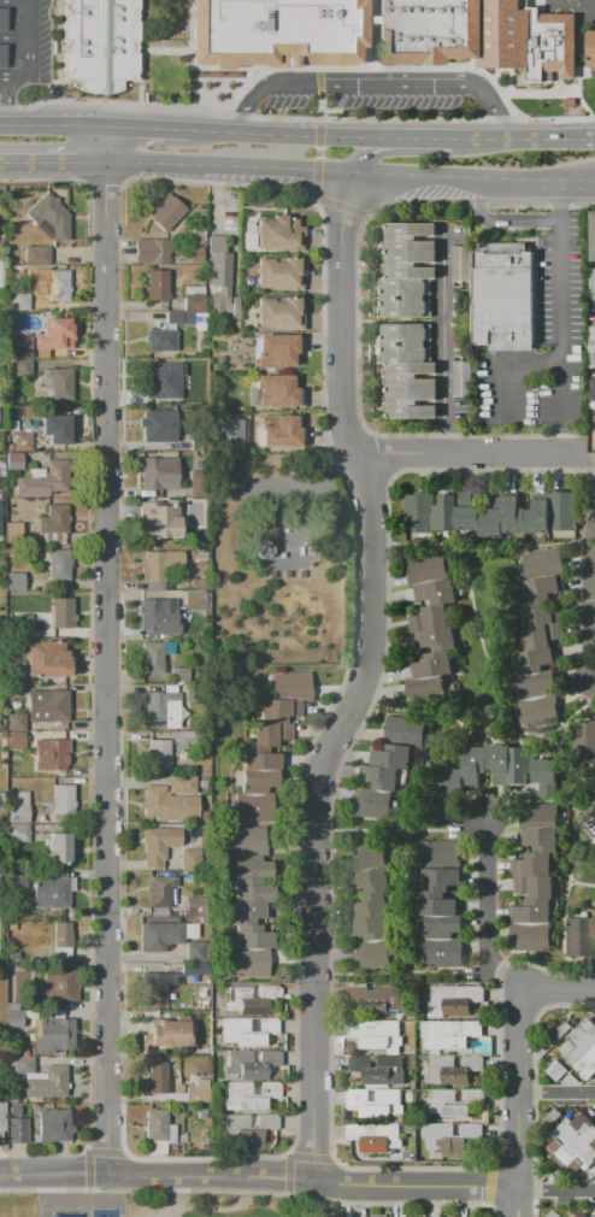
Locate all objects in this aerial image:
road: (12, 0)
road: (570, 2)
road: (367, 12)
building: (1, 18)
road: (188, 29)
building: (429, 30)
building: (275, 31)
road: (12, 36)
building: (526, 40)
parking lot: (24, 41)
road: (140, 41)
building: (99, 43)
road: (366, 46)
road: (24, 48)
building: (590, 48)
road: (163, 49)
building: (1, 54)
road: (223, 66)
road: (405, 67)
road: (506, 70)
road: (318, 80)
road: (372, 84)
road: (241, 87)
road: (575, 88)
road: (537, 93)
road: (139, 94)
road: (4, 98)
parking lot: (366, 101)
road: (319, 106)
road: (295, 118)
road: (29, 124)
road: (82, 124)
road: (148, 125)
road: (288, 131)
road: (318, 133)
road: (523, 133)
road: (419, 134)
road: (317, 153)
road: (365, 154)
road: (53, 164)
road: (225, 166)
road: (469, 176)
road: (102, 177)
road: (314, 178)
road: (41, 180)
road: (219, 183)
road: (479, 205)
road: (340, 206)
flagpole: (518, 210)
building: (165, 211)
building: (48, 218)
road: (500, 219)
building: (279, 234)
building: (591, 235)
building: (411, 249)
building: (152, 251)
building: (195, 253)
road: (78, 254)
building: (39, 255)
road: (559, 261)
building: (460, 264)
building: (279, 274)
building: (222, 278)
building: (158, 283)
building: (591, 287)
building: (42, 290)
building: (503, 296)
building: (194, 298)
building: (405, 298)
building: (281, 312)
building: (179, 318)
building: (57, 334)
building: (160, 340)
road: (443, 340)
building: (405, 343)
building: (19, 347)
building: (591, 347)
building: (278, 349)
road: (69, 353)
road: (69, 363)
road: (506, 366)
building: (22, 368)
building: (159, 374)
building: (460, 380)
building: (63, 384)
road: (560, 386)
building: (277, 390)
building: (411, 390)
building: (591, 390)
building: (153, 427)
building: (58, 428)
building: (230, 431)
building: (284, 431)
building: (22, 441)
road: (69, 447)
road: (475, 454)
road: (64, 458)
building: (14, 461)
building: (158, 474)
building: (47, 480)
building: (199, 483)
building: (463, 510)
building: (442, 511)
building: (561, 512)
building: (417, 515)
building: (517, 516)
building: (541, 516)
building: (159, 521)
building: (489, 522)
building: (53, 524)
building: (14, 535)
storage tank: (264, 549)
road: (482, 549)
building: (284, 553)
building: (59, 564)
building: (161, 564)
building: (542, 564)
building: (425, 569)
building: (16, 581)
road: (66, 584)
building: (542, 589)
building: (436, 593)
building: (195, 600)
building: (543, 612)
building: (59, 615)
building: (157, 617)
building: (431, 618)
road: (476, 634)
building: (542, 635)
building: (436, 640)
road: (107, 647)
road: (594, 648)
building: (152, 658)
building: (48, 659)
building: (535, 659)
building: (436, 665)
building: (181, 674)
road: (363, 680)
building: (536, 683)
building: (289, 684)
building: (431, 686)
building: (193, 693)
building: (49, 705)
building: (13, 707)
building: (281, 707)
building: (538, 709)
building: (160, 710)
road: (432, 712)
building: (17, 722)
road: (66, 725)
building: (271, 730)
building: (406, 731)
building: (182, 737)
building: (16, 740)
building: (583, 740)
building: (49, 754)
building: (158, 754)
building: (394, 757)
building: (257, 758)
building: (499, 764)
building: (472, 765)
building: (518, 765)
building: (543, 775)
building: (383, 778)
building: (181, 784)
building: (260, 786)
building: (450, 788)
building: (61, 799)
building: (167, 805)
building: (372, 805)
building: (18, 806)
building: (251, 807)
building: (538, 817)
building: (591, 822)
road: (402, 830)
building: (19, 833)
building: (246, 840)
building: (538, 840)
building: (159, 845)
building: (58, 847)
building: (370, 853)
building: (441, 854)
building: (189, 859)
building: (532, 864)
building: (252, 869)
road: (69, 874)
building: (369, 875)
building: (440, 878)
road: (582, 883)
building: (532, 887)
building: (43, 890)
building: (247, 890)
building: (160, 892)
building: (372, 901)
building: (437, 904)
building: (195, 906)
road: (565, 906)
building: (530, 912)
building: (248, 913)
road: (489, 913)
building: (594, 924)
building: (366, 925)
building: (442, 927)
building: (63, 936)
building: (159, 936)
building: (529, 937)
building: (255, 939)
building: (579, 939)
building: (195, 952)
building: (443, 952)
building: (369, 954)
building: (13, 956)
building: (249, 963)
building: (194, 970)
building: (59, 987)
building: (155, 987)
road: (558, 992)
building: (252, 999)
building: (376, 1000)
building: (454, 1000)
road: (66, 1015)
building: (16, 1019)
building: (247, 1030)
building: (449, 1034)
building: (58, 1036)
building: (372, 1036)
building: (169, 1037)
building: (582, 1048)
road: (71, 1062)
building: (251, 1064)
building: (24, 1065)
building: (378, 1070)
building: (453, 1070)
building: (555, 1071)
building: (159, 1082)
building: (48, 1084)
building: (198, 1090)
road: (519, 1090)
road: (556, 1093)
building: (249, 1094)
building: (376, 1104)
building: (453, 1104)
building: (14, 1111)
building: (201, 1112)
building: (2, 1117)
building: (155, 1125)
building: (54, 1127)
building: (248, 1127)
building: (18, 1131)
building: (375, 1137)
building: (450, 1139)
building: (575, 1142)
road: (259, 1176)
road: (556, 1189)
road: (518, 1203)
building: (552, 1213)
building: (585, 1213)
building: (378, 1216)
building: (573, 1216)

